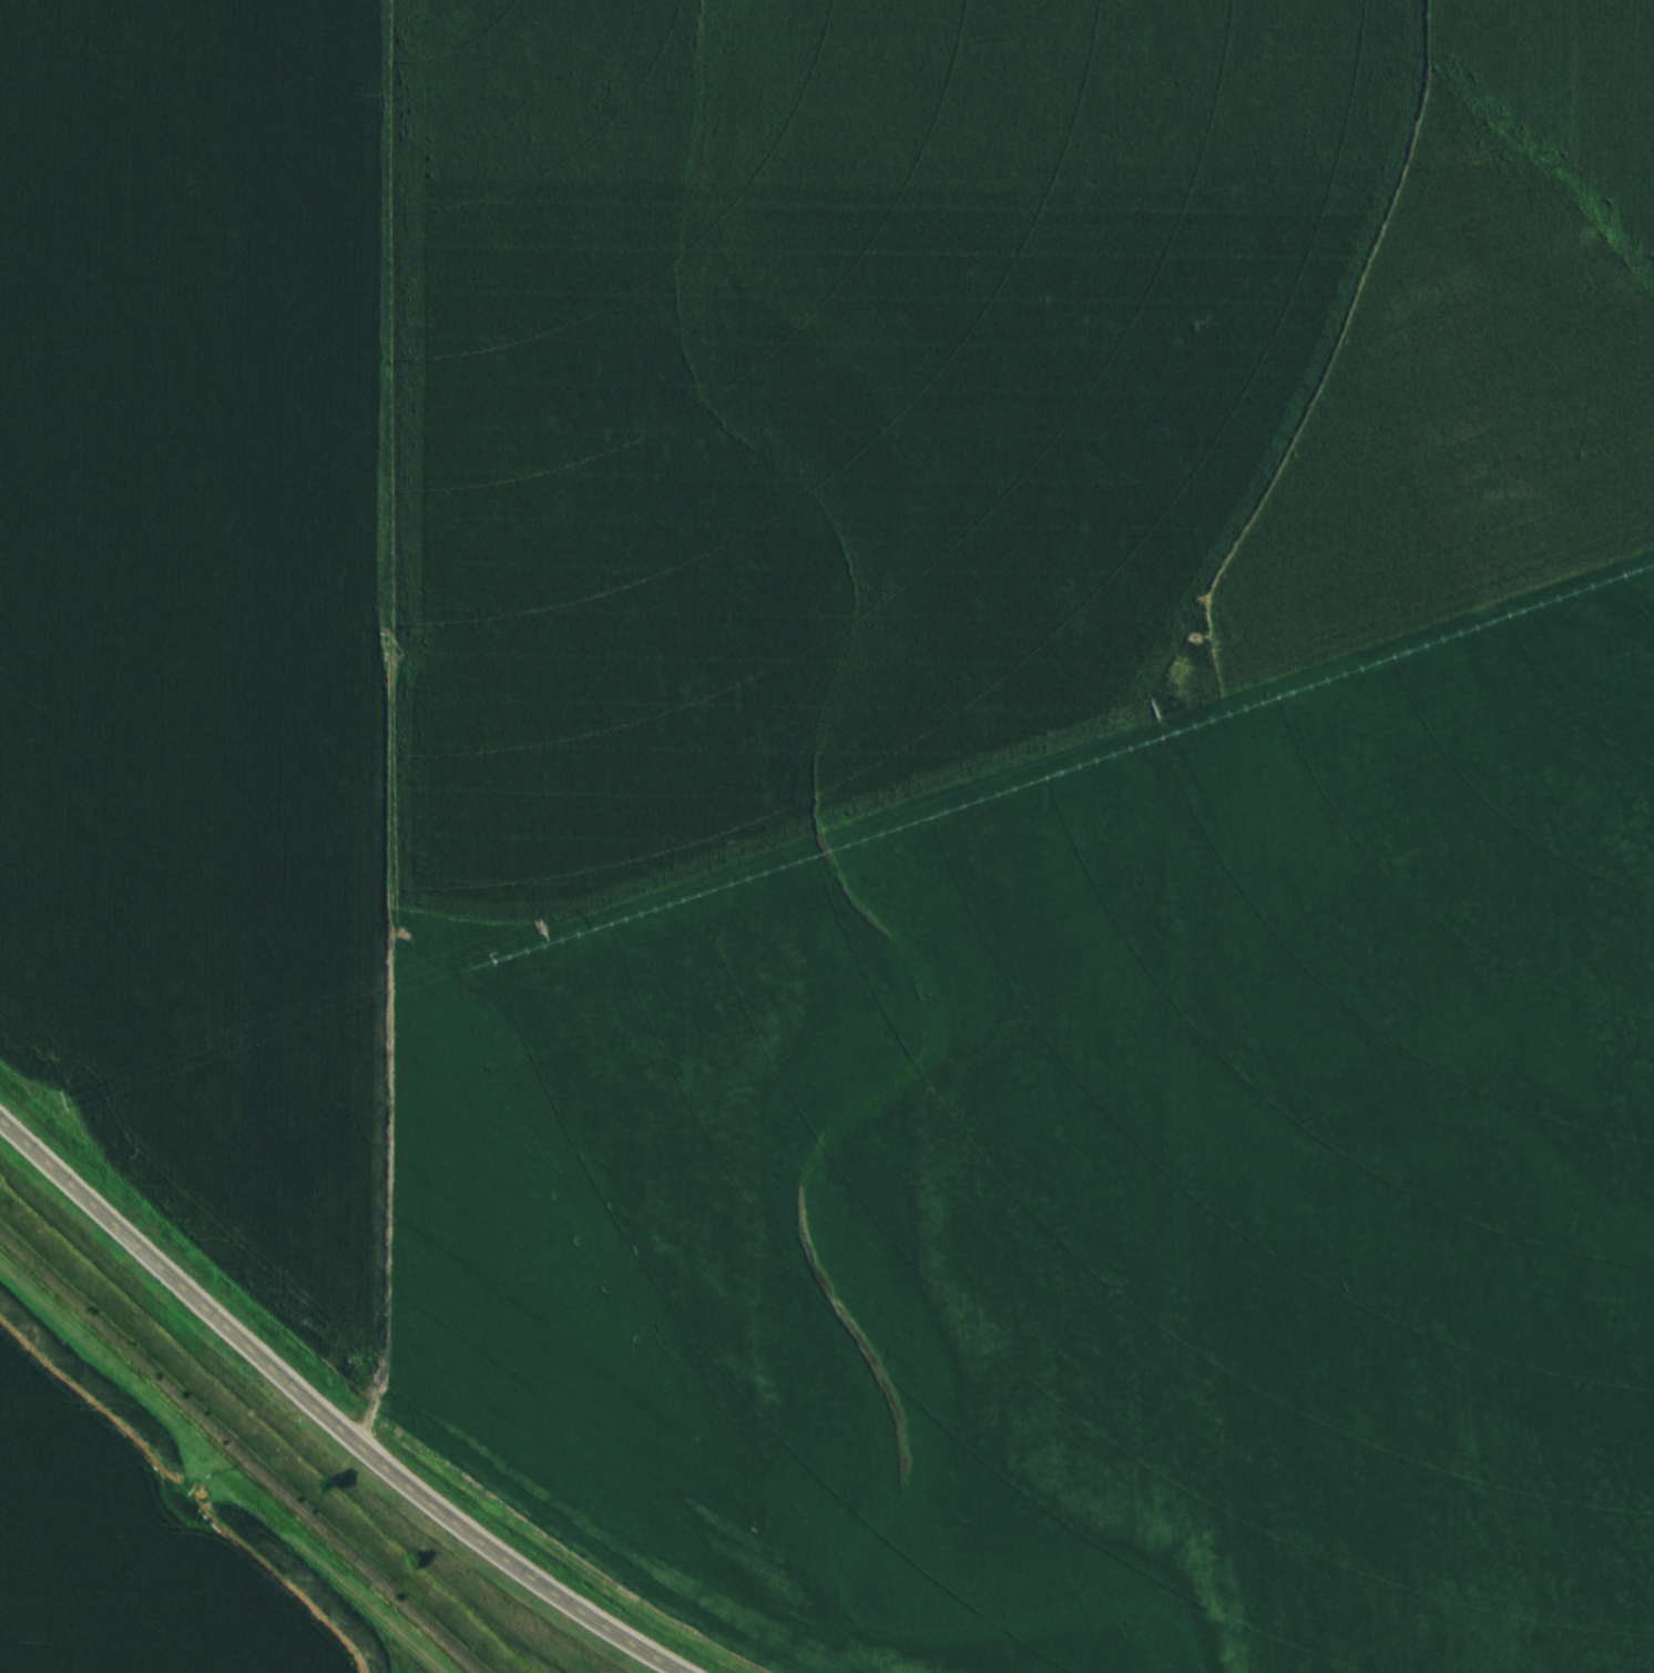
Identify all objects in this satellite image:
power tower: (1146, 714)
power tower: (542, 932)
power tower: (63, 1103)
road: (318, 1420)
railway: (234, 1458)

